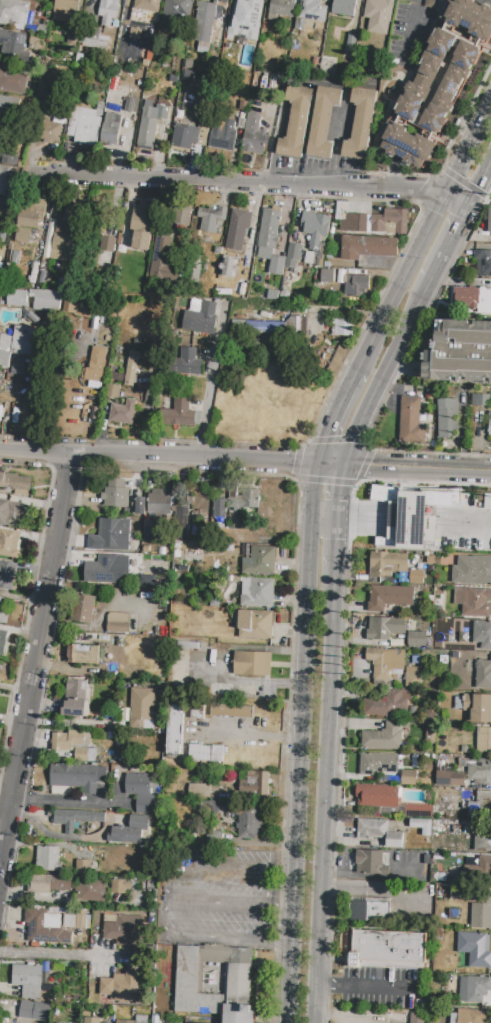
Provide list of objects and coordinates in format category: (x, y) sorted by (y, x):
building: (147, 5)
building: (344, 8)
building: (281, 9)
building: (12, 10)
building: (65, 10)
building: (313, 10)
building: (109, 11)
building: (177, 13)
building: (379, 16)
building: (248, 18)
building: (204, 22)
building: (136, 33)
building: (94, 38)
building: (351, 44)
building: (12, 45)
building: (13, 79)
building: (438, 82)
building: (46, 87)
building: (11, 107)
building: (296, 122)
building: (323, 122)
building: (362, 123)
building: (151, 124)
building: (86, 125)
building: (111, 130)
building: (223, 134)
building: (254, 134)
building: (183, 136)
road: (468, 151)
building: (5, 180)
road: (243, 183)
road: (480, 184)
road: (458, 200)
building: (31, 212)
building: (213, 219)
building: (489, 220)
building: (389, 221)
building: (357, 223)
building: (142, 226)
building: (238, 229)
building: (269, 229)
building: (315, 229)
building: (65, 233)
building: (23, 236)
building: (107, 244)
road: (448, 244)
building: (369, 247)
building: (293, 255)
building: (163, 258)
building: (483, 263)
building: (277, 265)
building: (228, 267)
building: (327, 276)
road: (402, 282)
building: (354, 286)
building: (273, 295)
building: (16, 297)
building: (472, 299)
building: (48, 300)
building: (78, 306)
building: (201, 318)
building: (297, 324)
building: (256, 326)
building: (342, 327)
building: (17, 344)
building: (459, 351)
building: (186, 363)
building: (17, 364)
building: (131, 368)
building: (94, 371)
road: (381, 372)
road: (210, 383)
building: (113, 390)
building: (430, 391)
building: (480, 400)
building: (123, 412)
building: (178, 414)
road: (336, 416)
building: (448, 419)
building: (411, 421)
building: (489, 423)
traffic signals: (328, 437)
road: (158, 458)
traffic signals: (292, 463)
road: (331, 464)
traffic signals: (367, 466)
road: (417, 468)
building: (15, 483)
traffic signals: (341, 486)
road: (312, 490)
road: (339, 491)
building: (119, 498)
building: (244, 498)
building: (201, 505)
building: (141, 506)
building: (219, 508)
building: (13, 513)
road: (324, 518)
building: (397, 521)
building: (181, 523)
building: (111, 536)
building: (9, 543)
road: (335, 543)
building: (473, 543)
building: (259, 561)
building: (387, 563)
building: (101, 569)
building: (472, 571)
building: (7, 575)
building: (415, 576)
building: (257, 593)
building: (390, 596)
building: (473, 602)
building: (4, 609)
building: (82, 609)
building: (118, 623)
building: (254, 624)
building: (384, 628)
building: (482, 634)
building: (415, 638)
building: (4, 642)
building: (83, 654)
building: (385, 662)
building: (251, 664)
road: (36, 665)
building: (482, 676)
building: (413, 677)
building: (75, 699)
building: (390, 703)
building: (198, 707)
building: (144, 708)
building: (481, 709)
building: (231, 710)
building: (174, 730)
road: (257, 736)
building: (383, 737)
building: (70, 740)
building: (483, 742)
building: (205, 752)
building: (85, 755)
building: (377, 764)
road: (300, 770)
building: (479, 771)
building: (75, 777)
building: (407, 777)
building: (449, 778)
building: (255, 784)
building: (139, 791)
building: (199, 791)
road: (324, 795)
building: (377, 796)
building: (483, 800)
road: (59, 801)
building: (74, 819)
building: (249, 820)
building: (422, 826)
building: (132, 831)
building: (380, 831)
road: (60, 837)
building: (482, 841)
building: (47, 859)
road: (216, 862)
building: (370, 862)
building: (484, 865)
building: (82, 866)
road: (370, 874)
building: (49, 883)
building: (122, 886)
building: (92, 890)
building: (471, 892)
road: (370, 893)
parking lot: (219, 895)
road: (31, 897)
building: (369, 910)
road: (166, 914)
building: (480, 916)
building: (45, 927)
building: (120, 929)
building: (475, 949)
building: (389, 950)
road: (50, 952)
building: (211, 977)
building: (27, 980)
road: (321, 984)
road: (374, 986)
building: (120, 987)
building: (474, 989)
building: (35, 1011)
building: (238, 1013)
building: (472, 1016)
building: (417, 1018)
building: (91, 1020)
building: (128, 1020)

